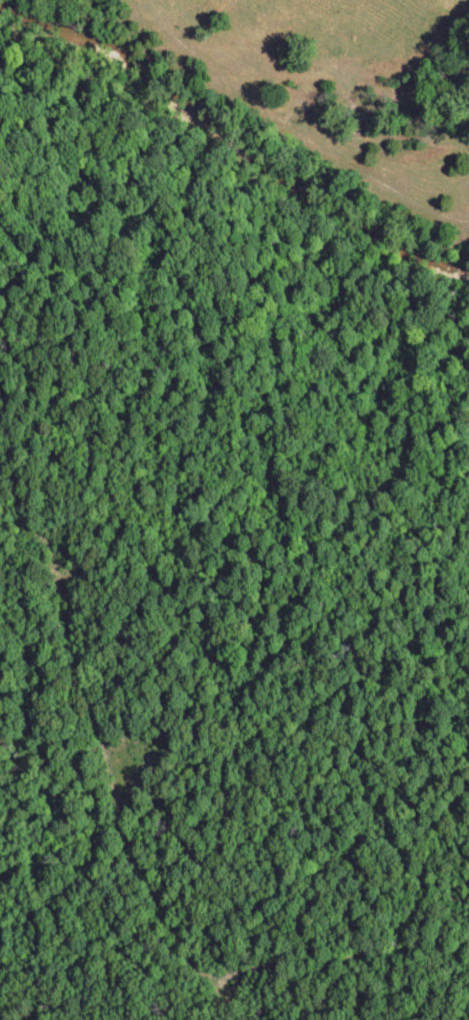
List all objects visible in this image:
road: (92, 772)

